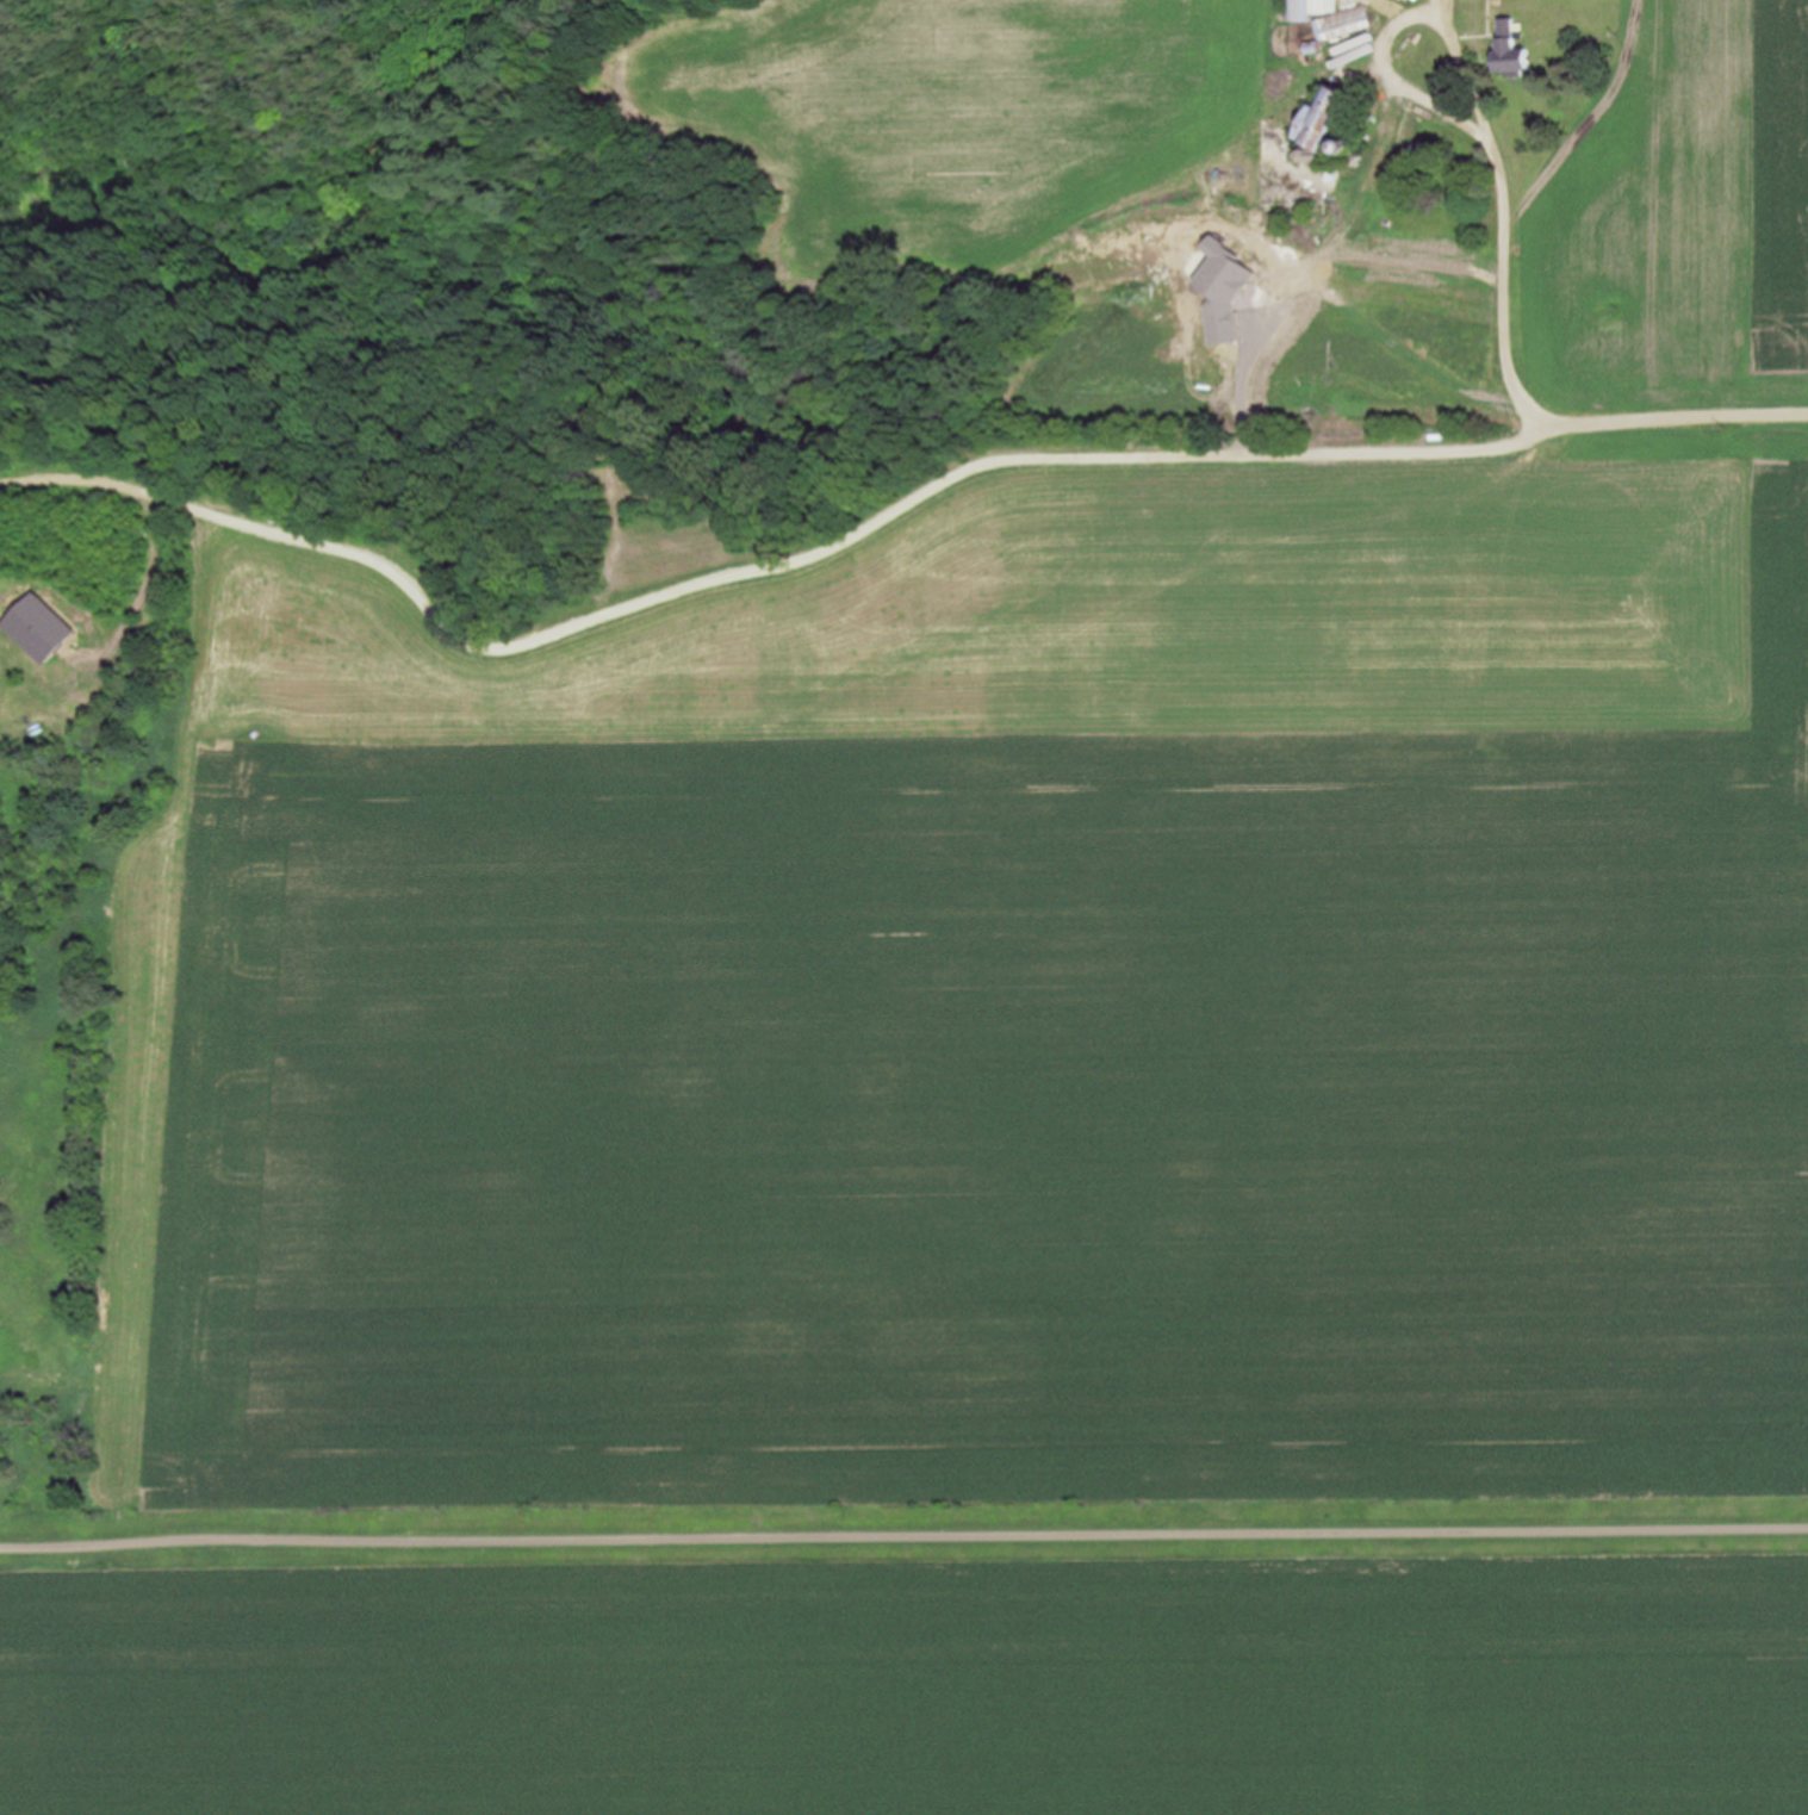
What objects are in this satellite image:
road: (1484, 111)
crop: (946, 124)
crop: (1683, 212)
road: (1685, 417)
road: (98, 479)
road: (860, 528)
crop: (977, 1005)
road: (903, 1536)
crop: (917, 1689)

